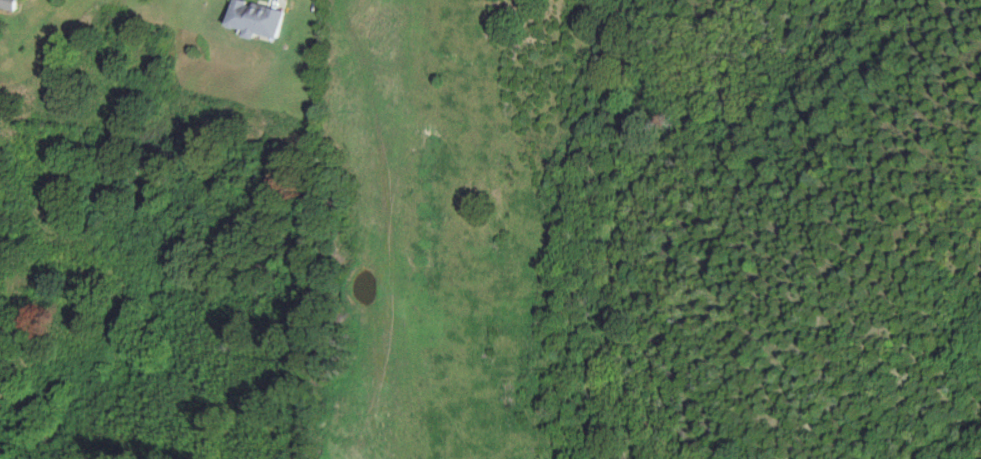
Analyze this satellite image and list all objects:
building: (9, 4)
building: (254, 19)

